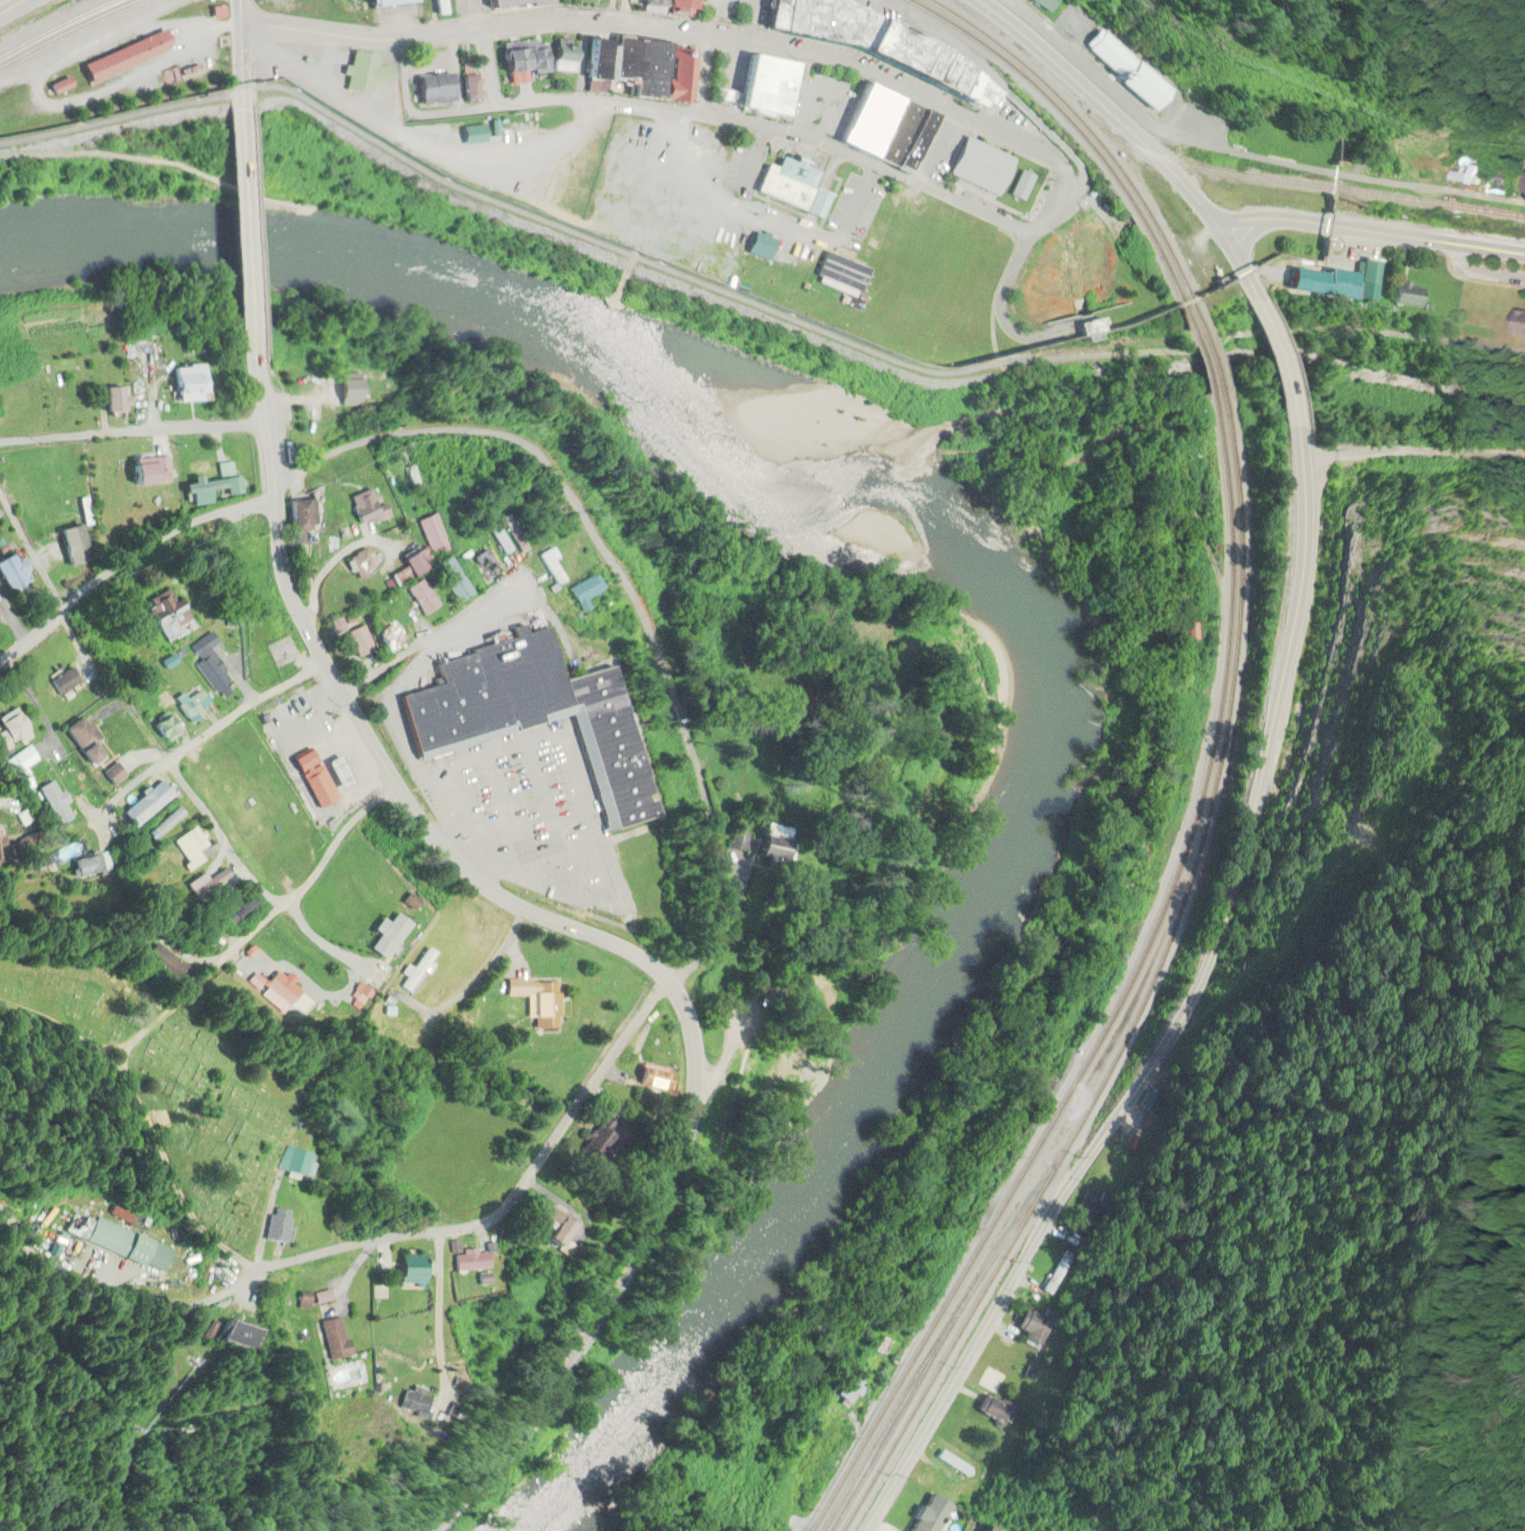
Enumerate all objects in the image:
building: (386, 1)
building: (512, 3)
building: (648, 3)
building: (438, 6)
road: (14, 7)
building: (678, 8)
railway: (61, 28)
railway: (71, 31)
road: (693, 33)
building: (886, 49)
road: (245, 55)
building: (561, 56)
building: (123, 57)
building: (641, 68)
building: (1125, 70)
building: (364, 73)
road: (704, 73)
building: (57, 86)
building: (469, 88)
building: (432, 89)
building: (758, 89)
road: (750, 123)
building: (883, 130)
building: (470, 136)
road: (1144, 146)
building: (978, 166)
building: (1462, 178)
railway: (1273, 180)
building: (1522, 184)
building: (789, 186)
road: (1374, 233)
road: (257, 237)
building: (841, 273)
road: (1479, 275)
building: (1403, 296)
building: (1516, 323)
road: (1283, 376)
building: (192, 385)
building: (112, 401)
road: (136, 430)
railway: (1233, 444)
building: (146, 473)
building: (212, 486)
building: (362, 508)
building: (556, 511)
building: (302, 519)
building: (433, 535)
building: (70, 544)
road: (28, 557)
road: (335, 562)
building: (361, 563)
building: (412, 564)
building: (485, 566)
building: (549, 567)
road: (132, 569)
building: (9, 574)
building: (452, 581)
road: (615, 587)
building: (583, 592)
river: (997, 597)
building: (420, 598)
building: (167, 616)
building: (1186, 633)
road: (414, 634)
road: (415, 636)
building: (387, 638)
building: (359, 641)
building: (202, 645)
building: (65, 681)
building: (188, 707)
building: (526, 712)
building: (162, 729)
building: (11, 730)
road: (207, 736)
building: (81, 740)
railway: (1217, 751)
building: (17, 765)
building: (111, 775)
building: (312, 780)
building: (55, 803)
building: (144, 805)
building: (164, 825)
building: (739, 841)
building: (188, 844)
building: (3, 846)
building: (95, 866)
building: (211, 884)
road: (275, 902)
building: (235, 913)
building: (384, 936)
road: (603, 938)
building: (166, 962)
road: (484, 965)
building: (415, 971)
building: (283, 990)
building: (359, 995)
building: (535, 1002)
road: (1197, 1023)
road: (1065, 1078)
building: (647, 1081)
building: (290, 1163)
road: (266, 1201)
building: (545, 1226)
building: (272, 1227)
road: (370, 1242)
building: (117, 1243)
building: (467, 1263)
building: (407, 1271)
building: (1060, 1281)
building: (320, 1299)
road: (439, 1312)
building: (224, 1335)
building: (331, 1339)
building: (391, 1357)
building: (848, 1390)
building: (400, 1401)
building: (989, 1408)
building: (928, 1516)

